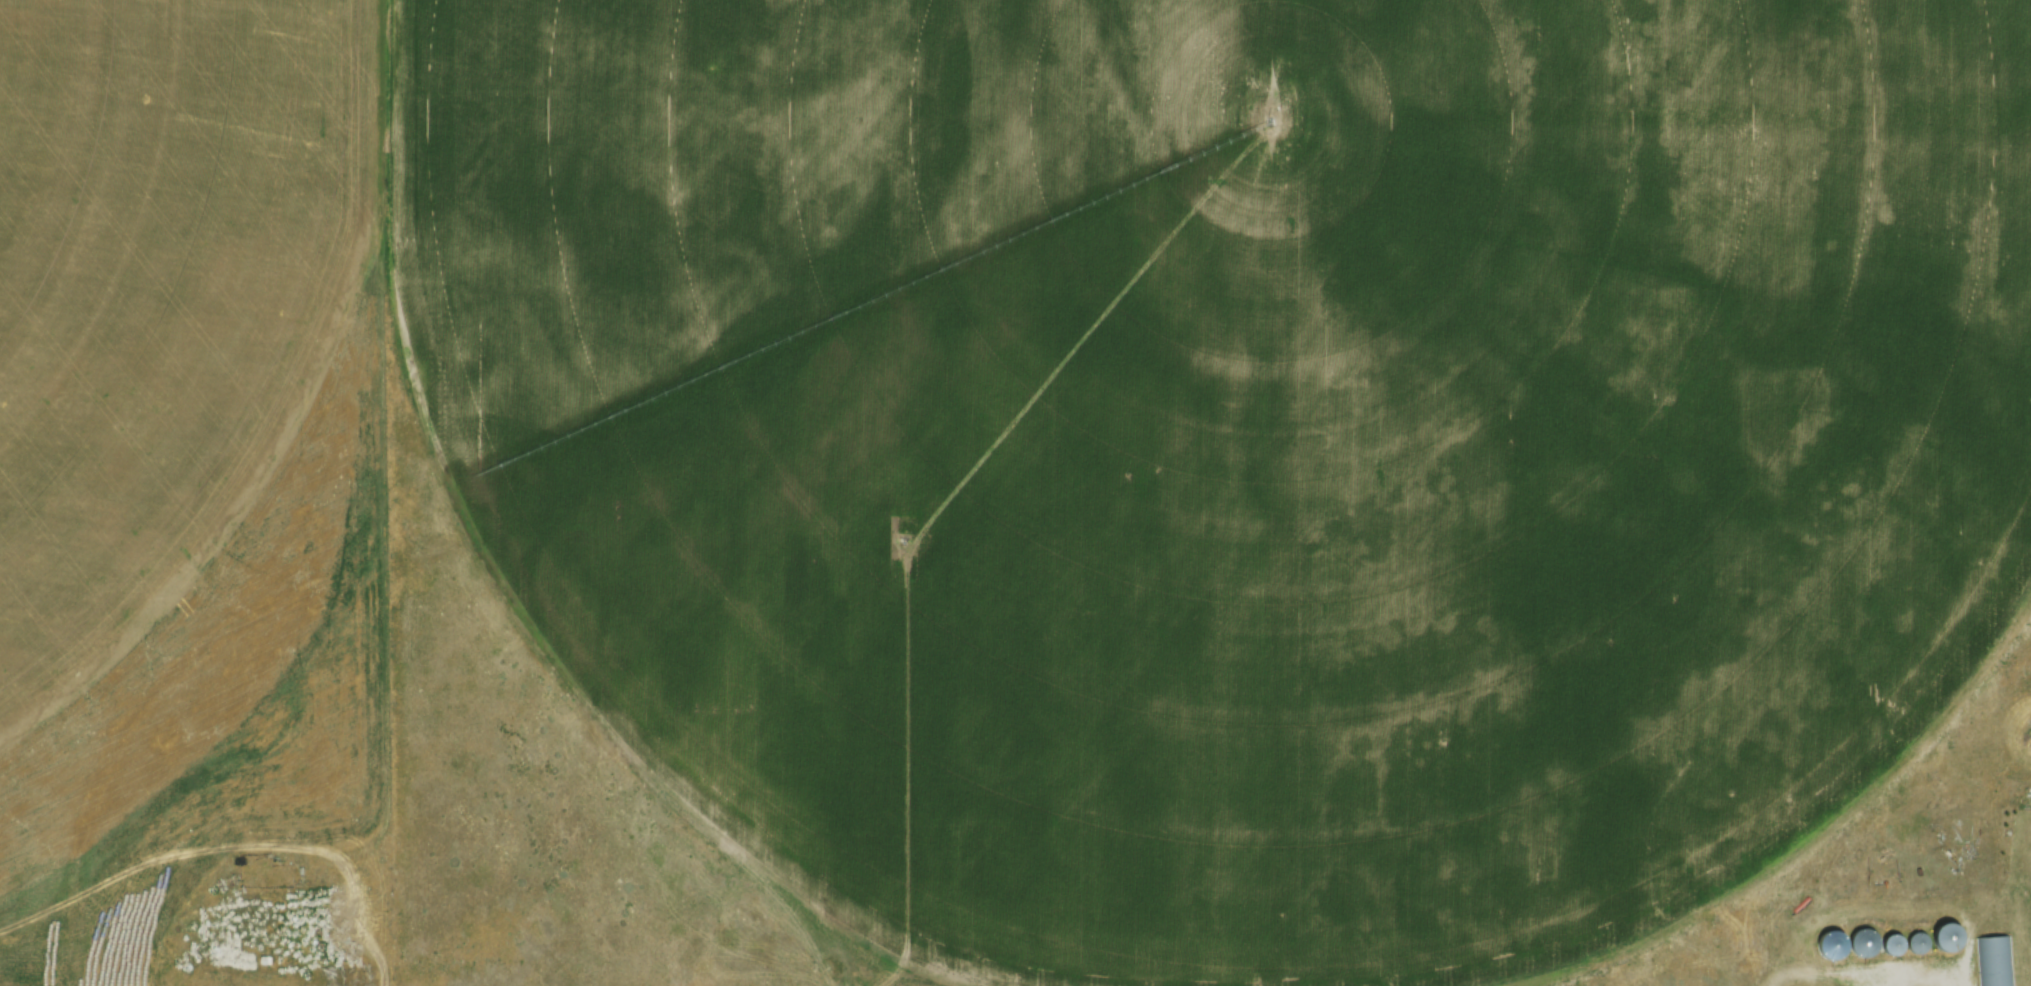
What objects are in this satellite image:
building: (1990, 961)

